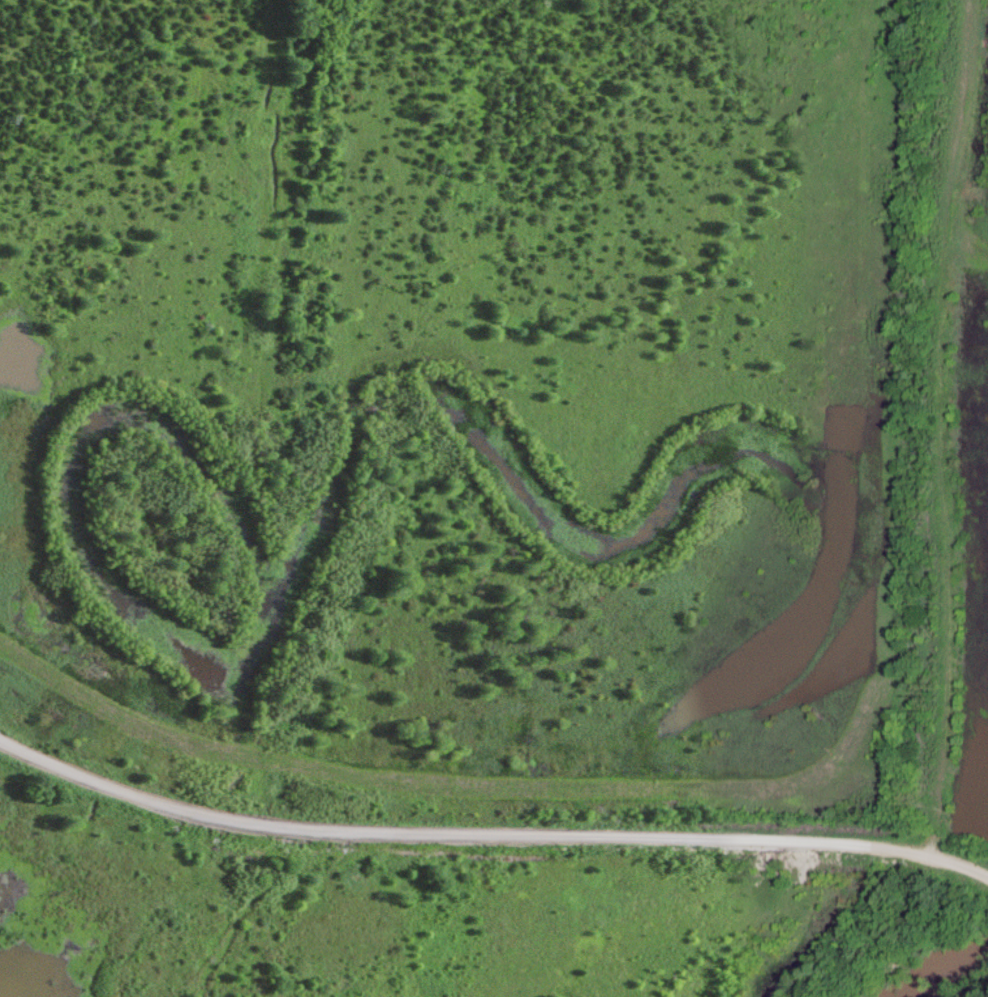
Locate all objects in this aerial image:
road: (488, 842)

